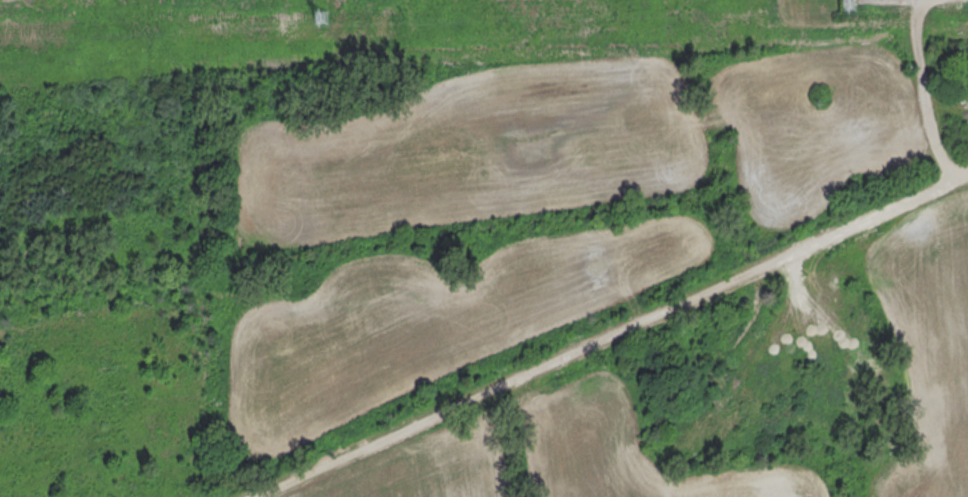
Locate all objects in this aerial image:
power tower: (845, 0)
power tower: (317, 14)
road: (921, 84)
road: (618, 338)

